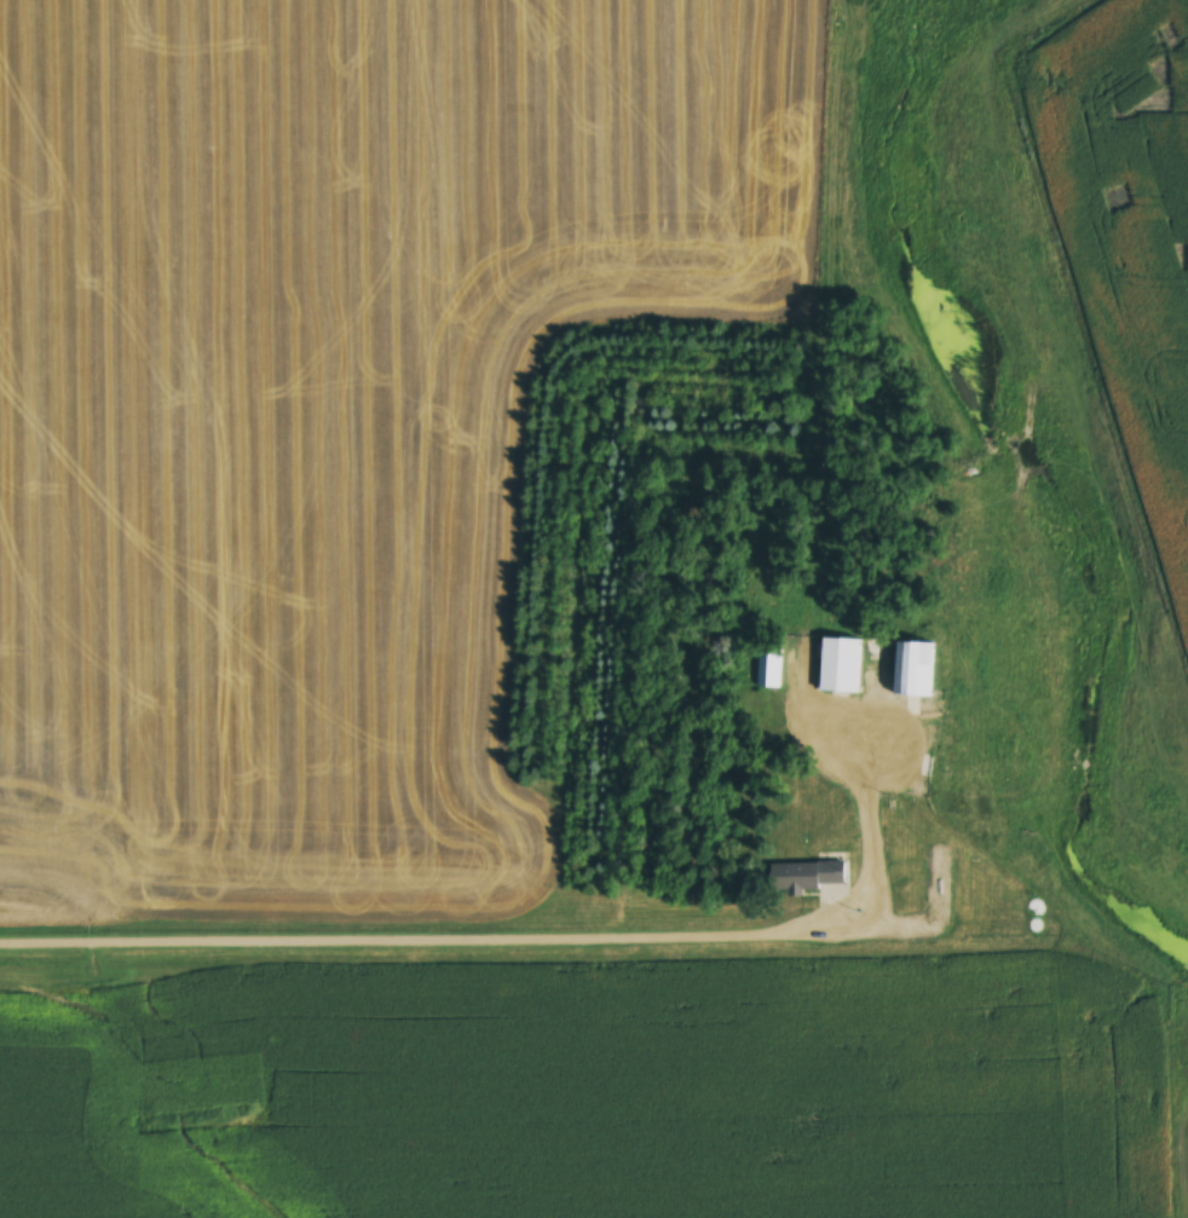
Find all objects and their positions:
building: (844, 664)
building: (768, 668)
building: (917, 668)
building: (811, 876)

